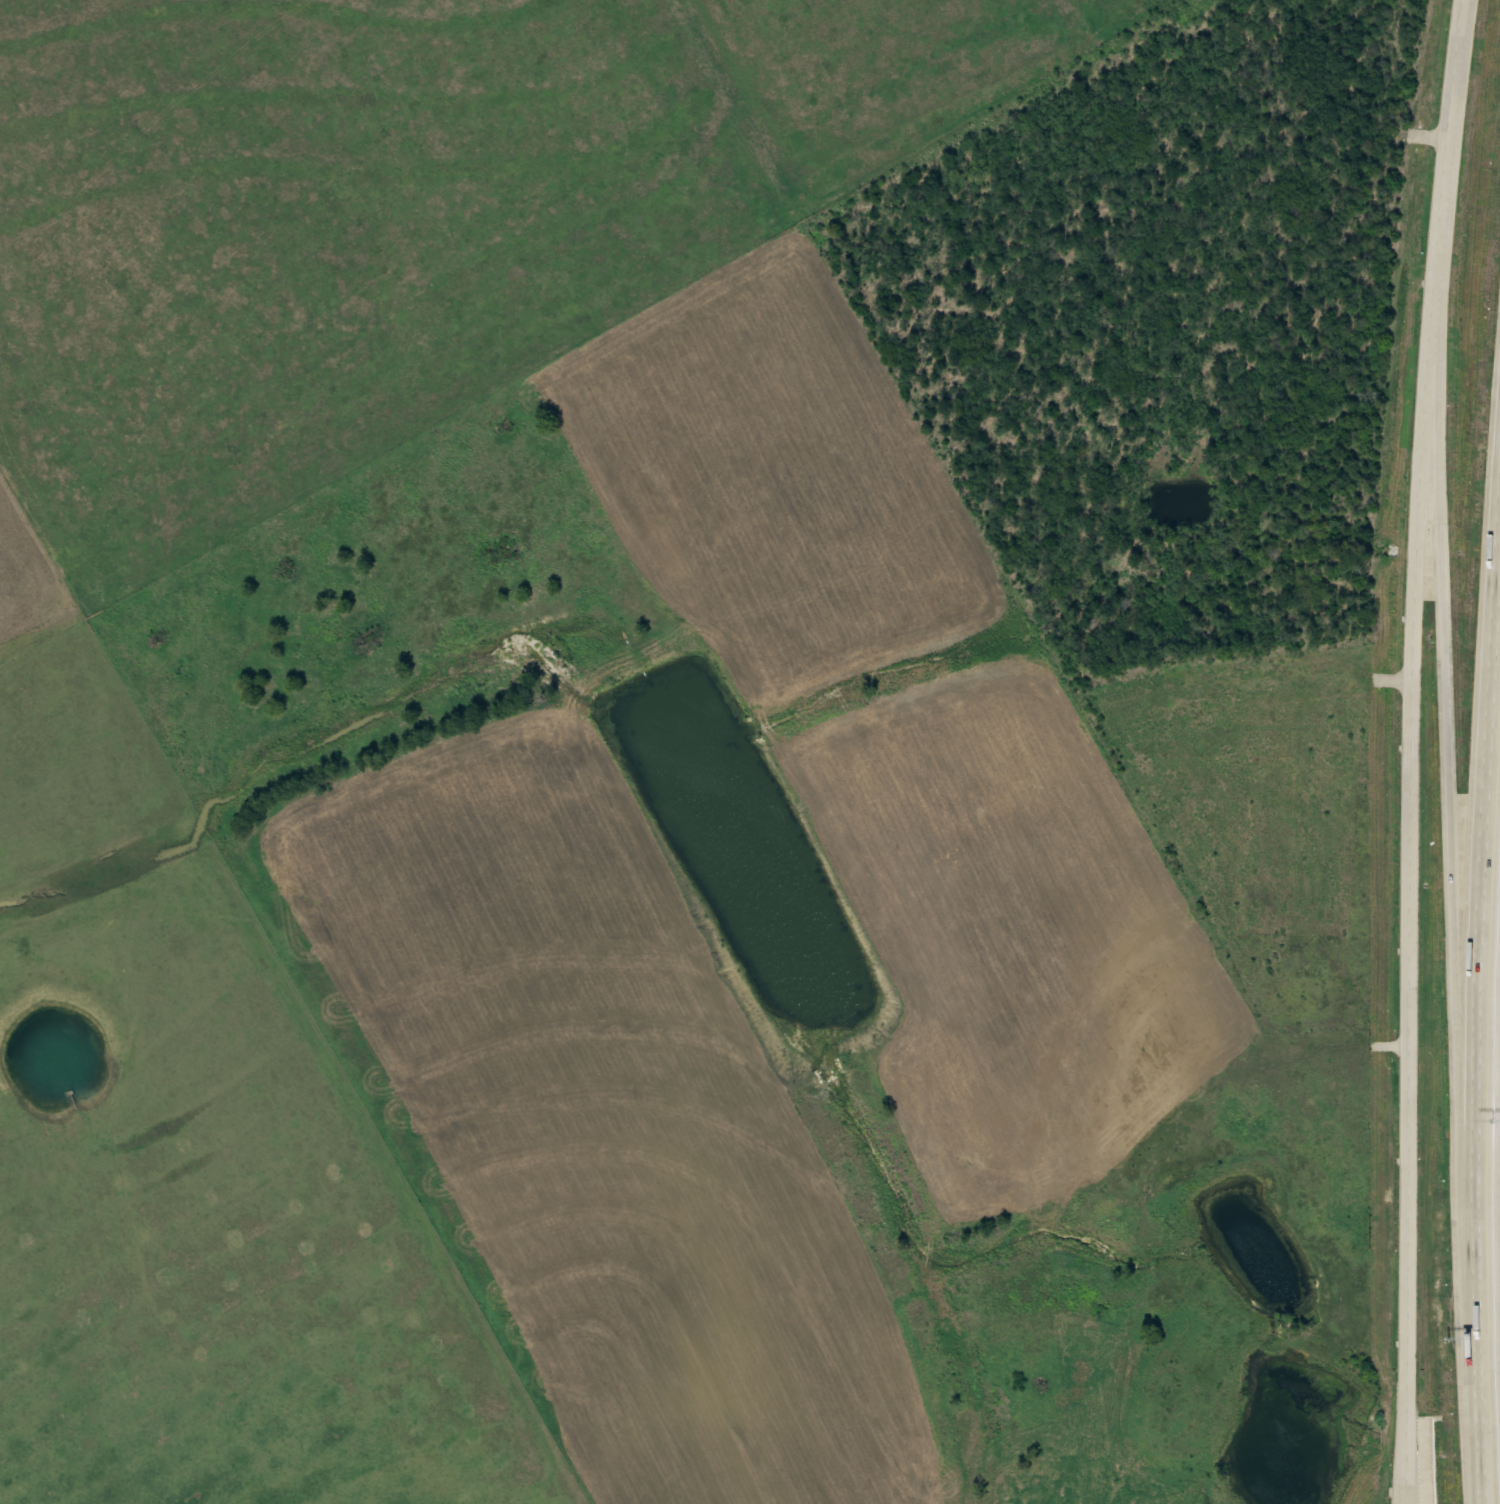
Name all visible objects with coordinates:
road: (1413, 750)
road: (1451, 769)
road: (1484, 949)
road: (1482, 1389)
road: (1404, 1451)

